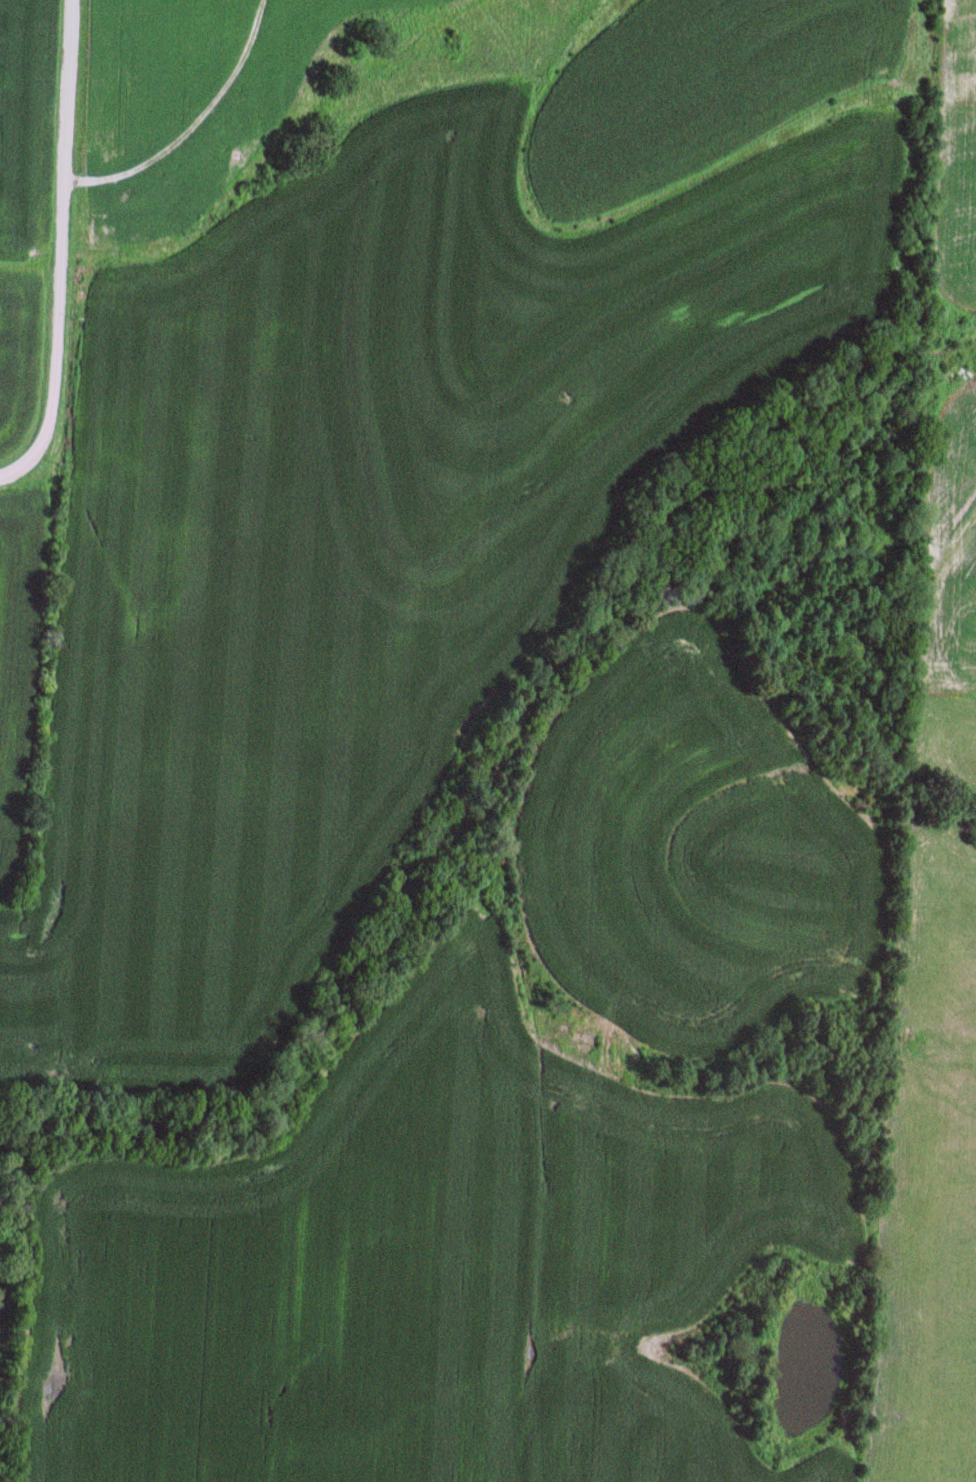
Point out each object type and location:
road: (193, 123)
road: (62, 249)

